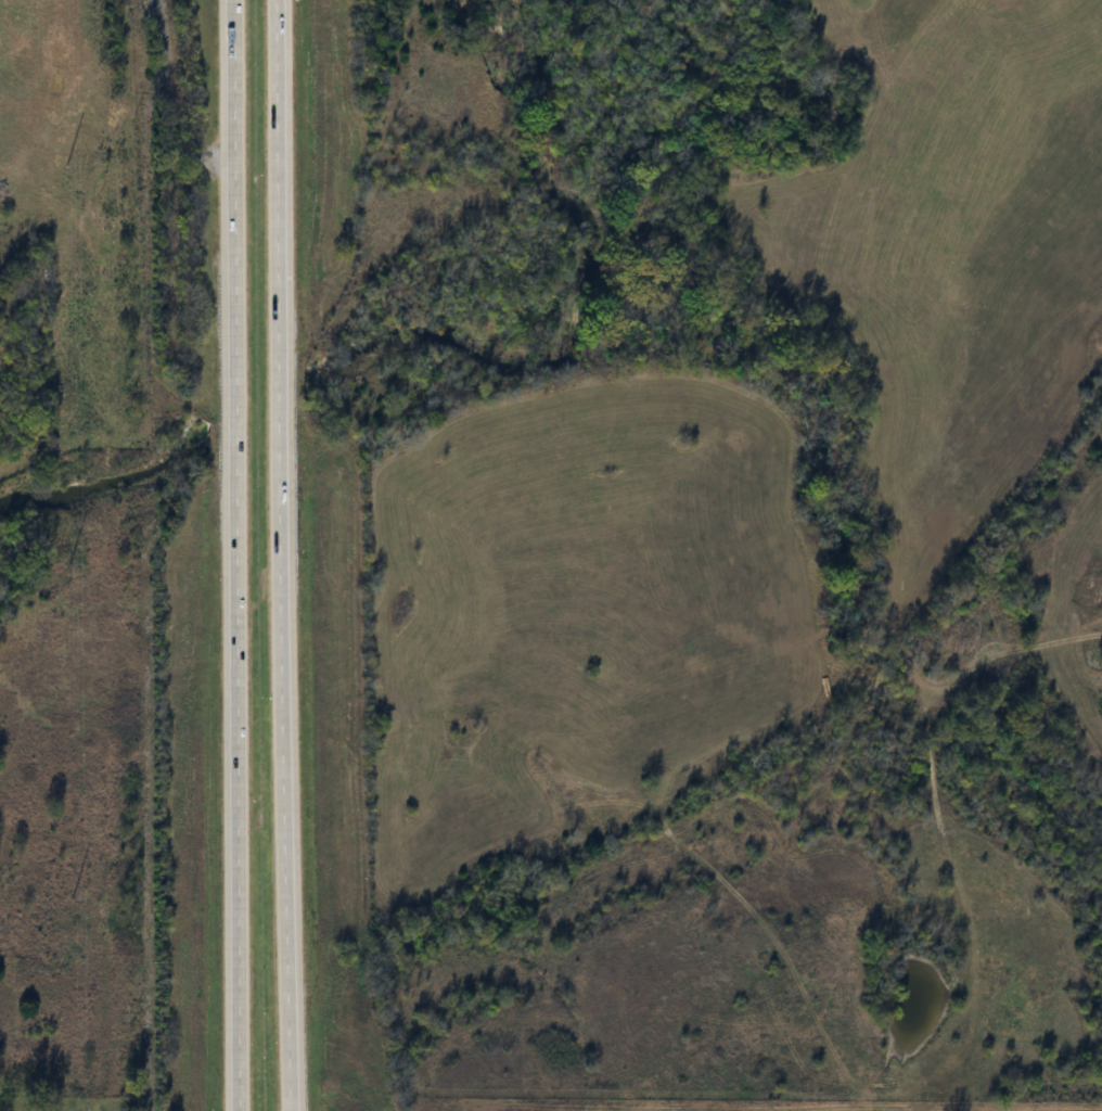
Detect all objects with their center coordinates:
road: (225, 555)
road: (267, 555)

